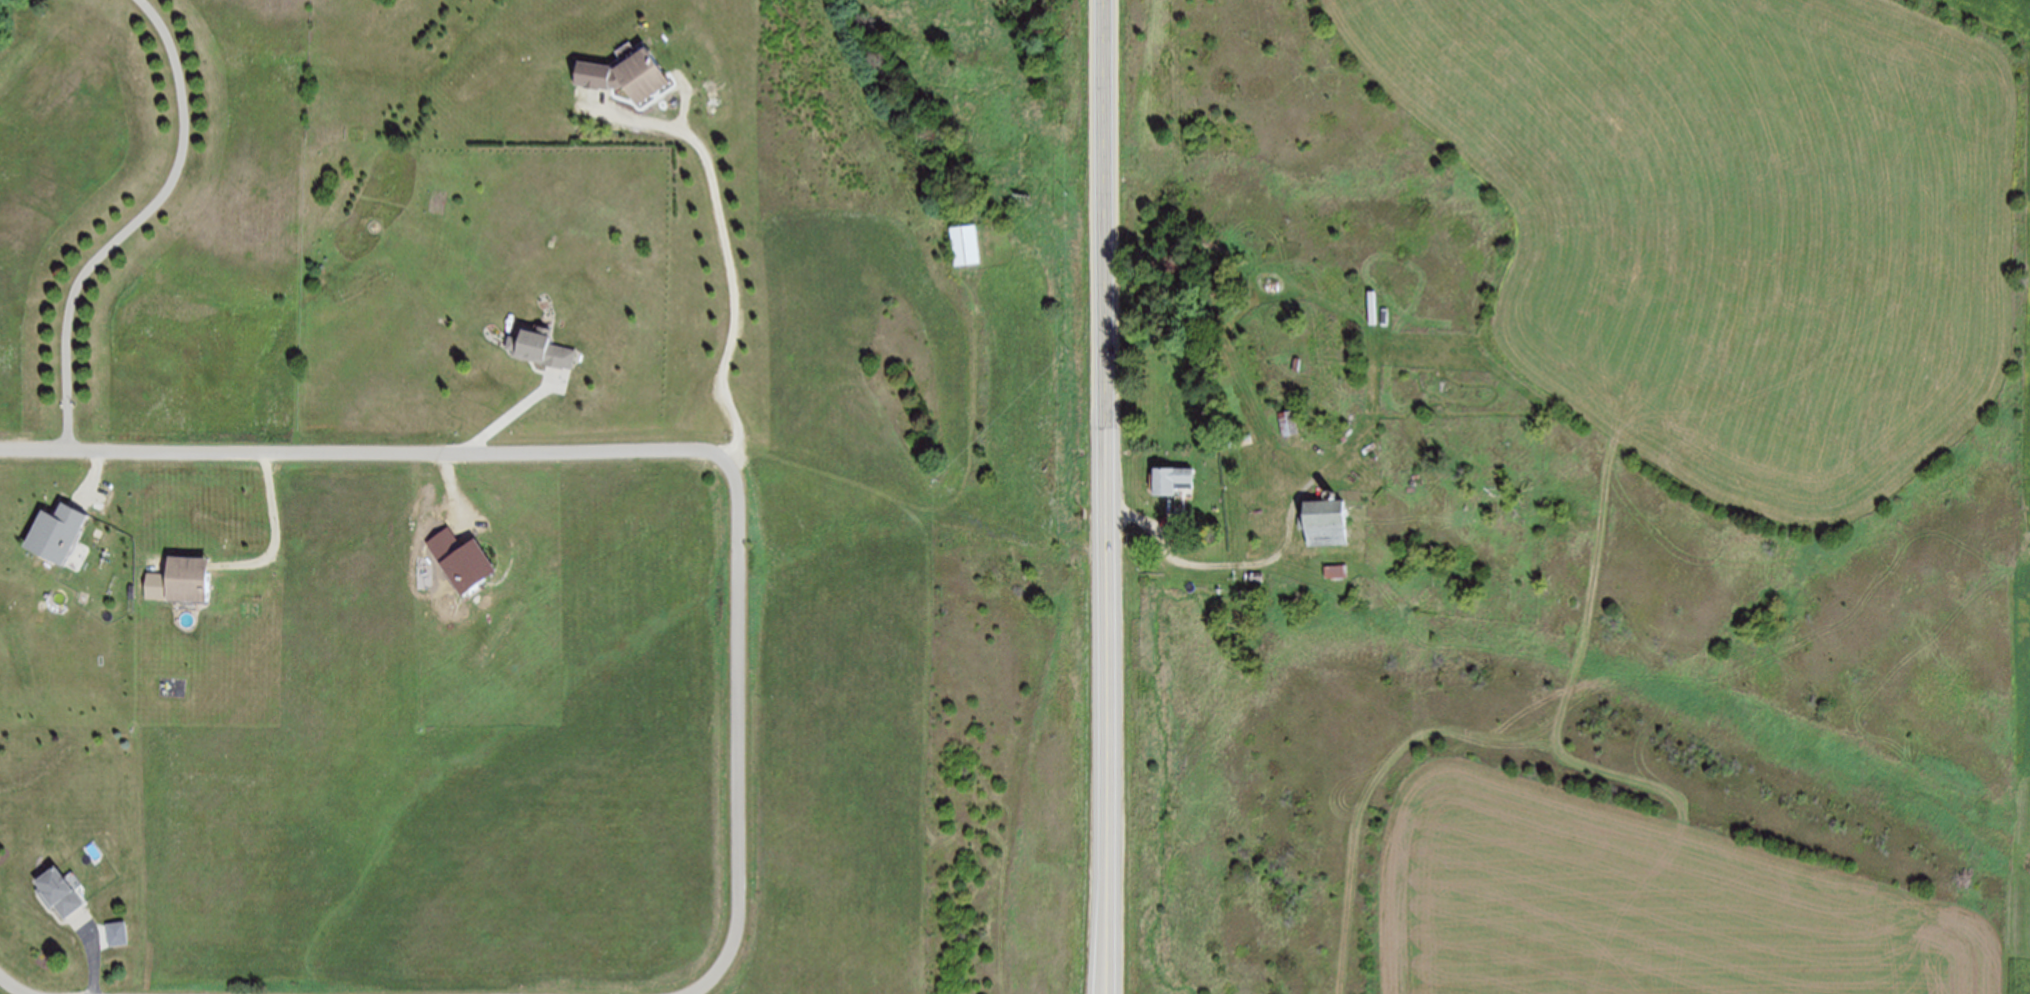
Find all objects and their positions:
building: (626, 77)
road: (134, 223)
road: (726, 243)
building: (964, 245)
building: (541, 349)
road: (512, 414)
building: (1290, 423)
road: (1020, 437)
road: (620, 449)
building: (1170, 481)
road: (1109, 496)
road: (462, 507)
building: (1327, 523)
road: (276, 531)
building: (51, 540)
building: (462, 561)
road: (1238, 569)
road: (18, 575)
building: (187, 580)
building: (57, 891)
building: (117, 932)
road: (96, 949)
road: (708, 981)
road: (16, 985)

